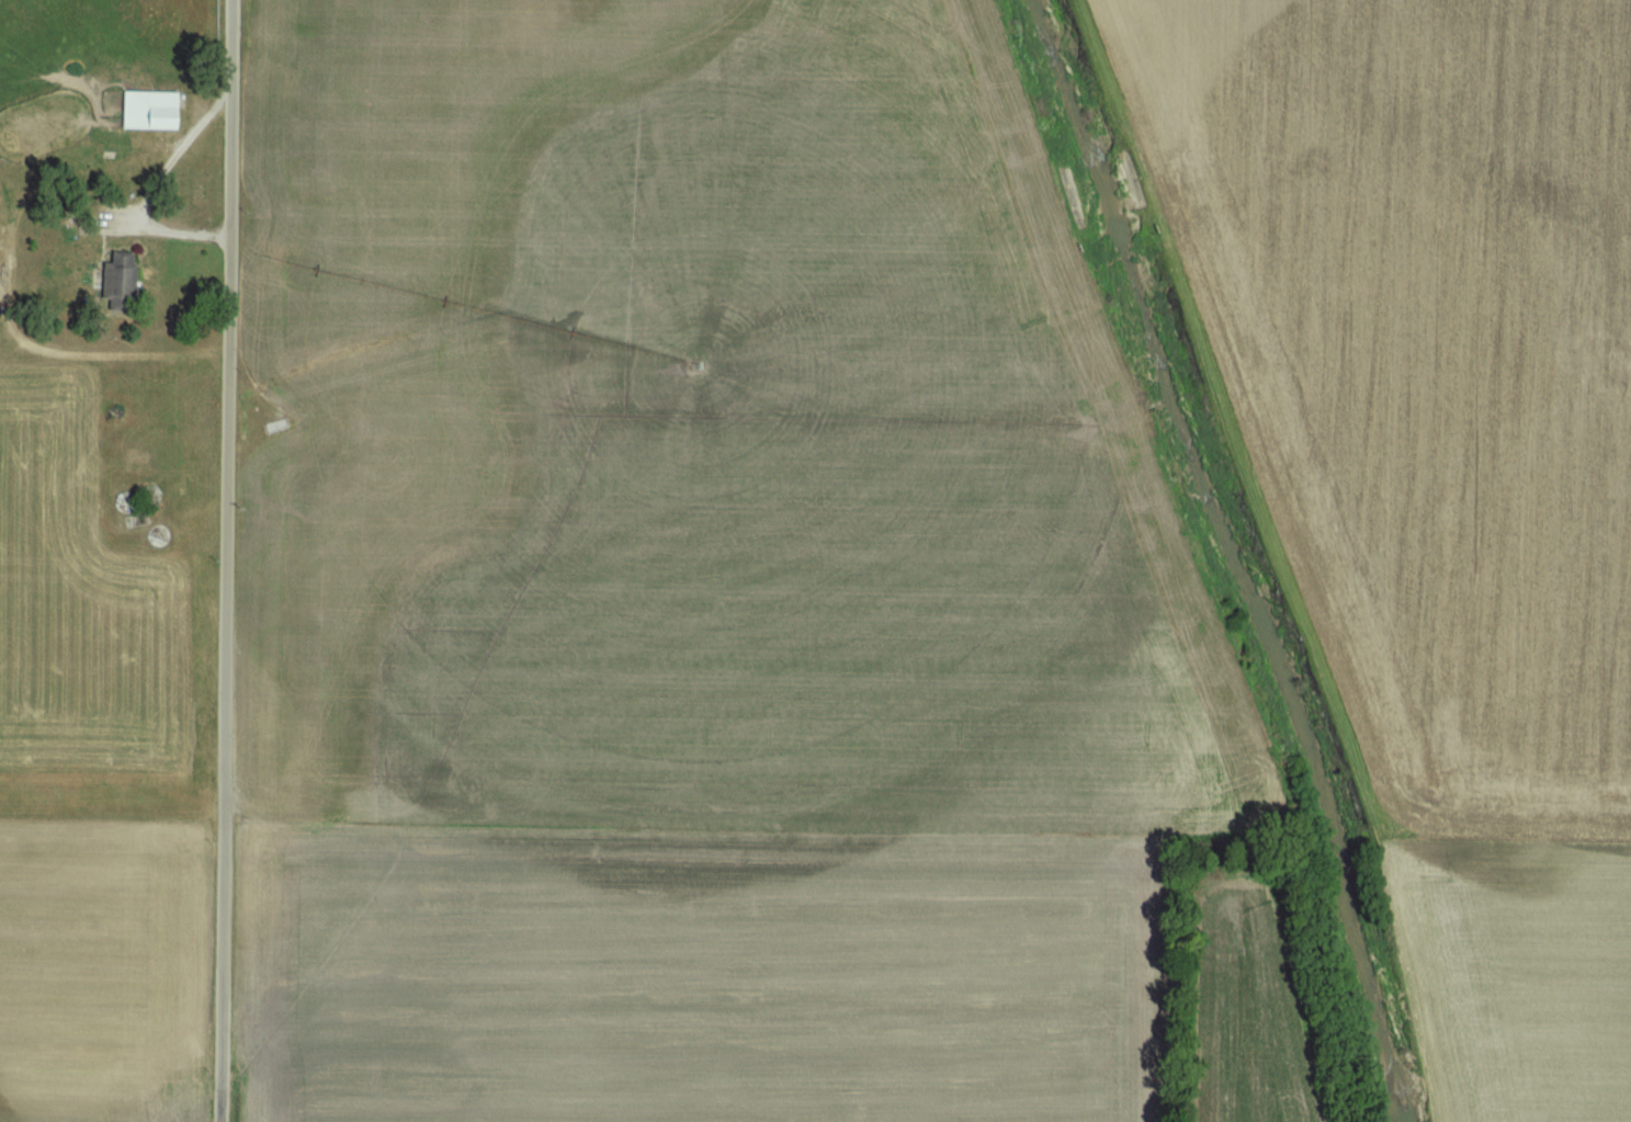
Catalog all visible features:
building: (157, 111)
road: (174, 159)
road: (177, 236)
building: (126, 283)
road: (105, 360)
river: (1234, 557)
road: (226, 560)

